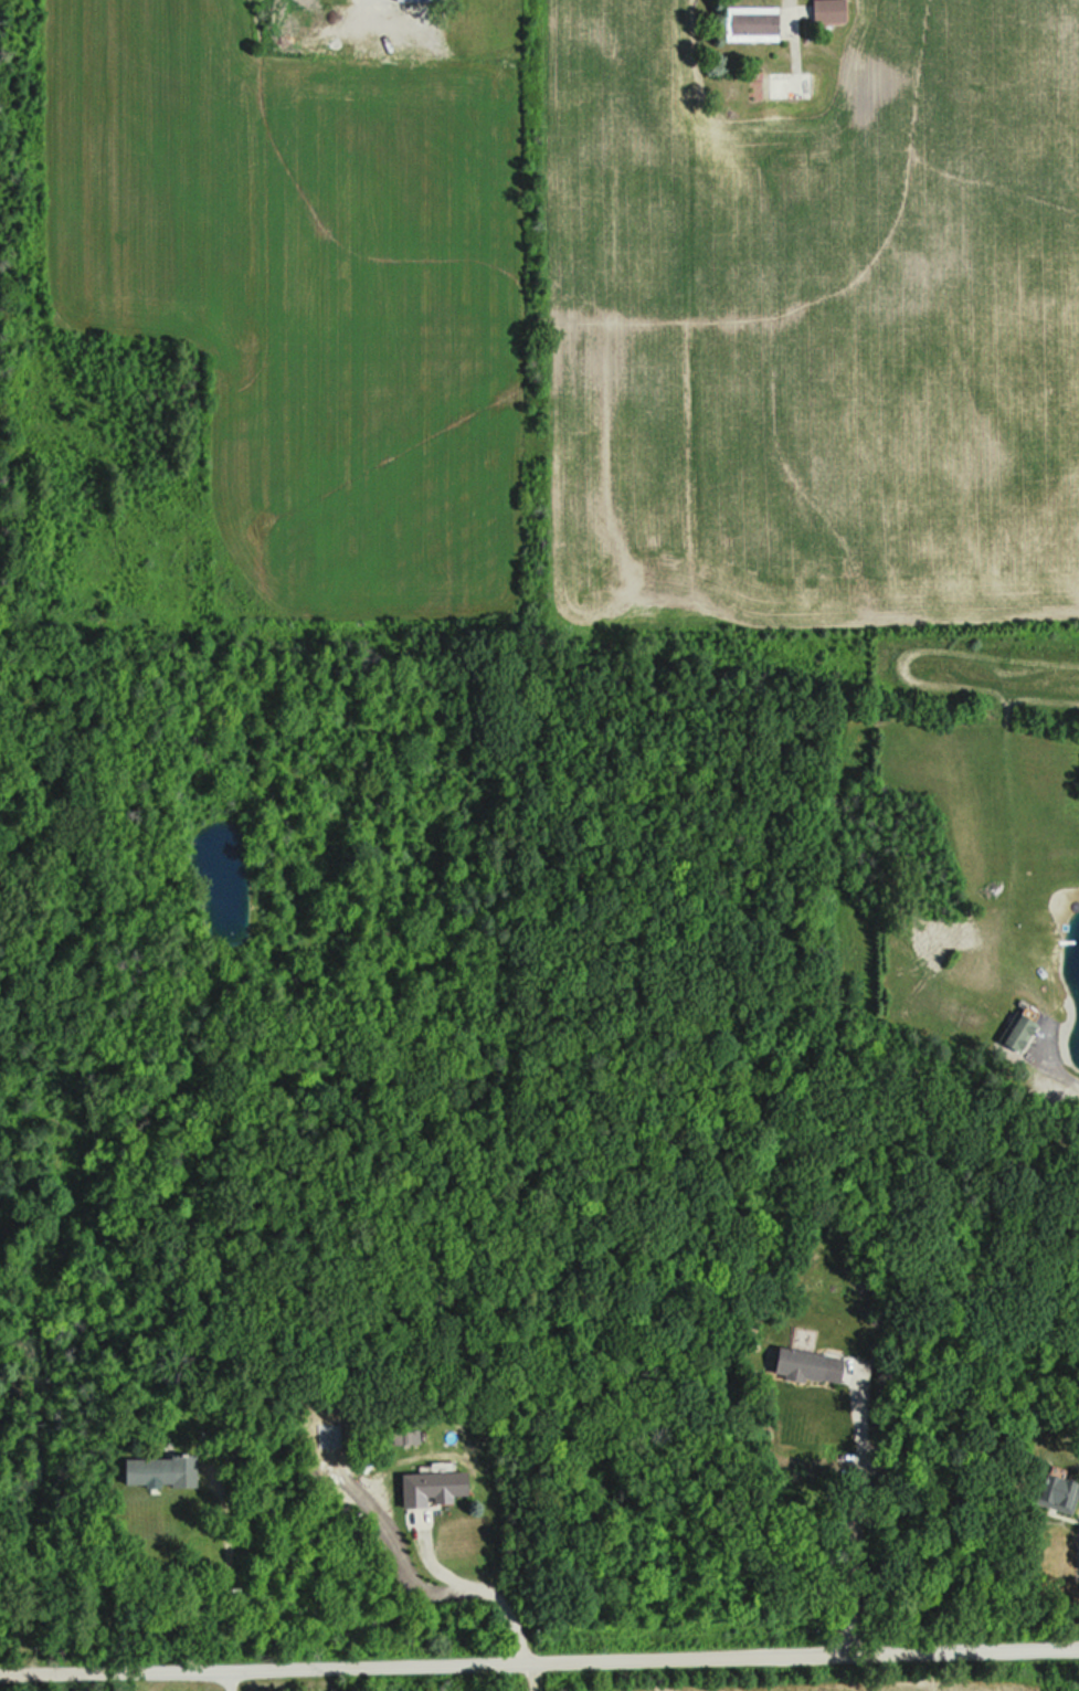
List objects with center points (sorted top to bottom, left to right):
building: (424, 1)
road: (366, 2)
road: (784, 4)
building: (754, 27)
building: (795, 87)
building: (1024, 1032)
building: (816, 1367)
building: (165, 1472)
building: (438, 1490)
building: (1061, 1493)
road: (857, 1511)
road: (479, 1586)
road: (539, 1663)
road: (539, 1678)

